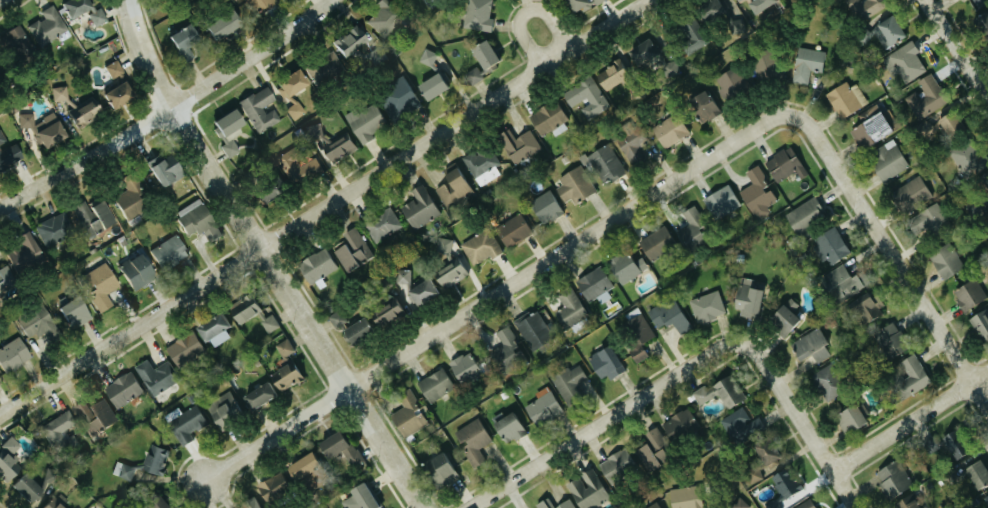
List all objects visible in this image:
building: (238, 0)
building: (266, 4)
building: (581, 4)
building: (762, 4)
building: (865, 8)
building: (708, 10)
building: (86, 11)
building: (478, 15)
building: (982, 18)
building: (383, 19)
building: (235, 23)
road: (558, 26)
building: (50, 27)
building: (888, 32)
building: (691, 35)
building: (188, 41)
building: (349, 42)
road: (959, 48)
building: (642, 52)
building: (428, 57)
building: (481, 61)
building: (905, 62)
building: (808, 64)
building: (765, 67)
building: (116, 68)
building: (325, 68)
building: (612, 74)
building: (732, 84)
building: (431, 86)
building: (296, 93)
building: (62, 94)
building: (125, 96)
building: (586, 97)
building: (926, 97)
building: (398, 99)
building: (847, 99)
building: (702, 107)
road: (169, 109)
building: (264, 110)
building: (89, 112)
building: (548, 118)
building: (366, 122)
building: (948, 122)
building: (47, 129)
building: (870, 130)
building: (232, 131)
building: (669, 131)
building: (518, 145)
building: (633, 146)
building: (338, 149)
building: (9, 153)
building: (887, 160)
building: (967, 160)
building: (604, 163)
building: (784, 164)
building: (301, 166)
building: (483, 166)
building: (170, 169)
building: (575, 185)
building: (453, 187)
building: (985, 188)
building: (912, 194)
building: (758, 195)
building: (136, 198)
building: (722, 202)
building: (544, 206)
road: (328, 208)
building: (420, 208)
building: (976, 210)
building: (805, 215)
building: (95, 219)
building: (201, 220)
building: (929, 221)
building: (383, 224)
building: (691, 227)
building: (57, 229)
building: (513, 230)
building: (657, 242)
building: (445, 245)
building: (830, 246)
building: (360, 247)
building: (481, 247)
building: (172, 252)
building: (29, 255)
road: (263, 259)
building: (946, 261)
road: (892, 262)
building: (319, 265)
building: (628, 267)
building: (142, 271)
building: (450, 273)
building: (839, 283)
building: (595, 285)
building: (8, 286)
building: (105, 286)
building: (417, 287)
road: (498, 293)
building: (969, 294)
building: (747, 299)
building: (707, 307)
building: (570, 308)
building: (863, 309)
building: (78, 313)
building: (386, 313)
building: (257, 314)
building: (668, 316)
building: (784, 316)
building: (337, 318)
building: (981, 324)
building: (42, 325)
building: (535, 328)
building: (221, 331)
building: (355, 331)
building: (636, 337)
building: (890, 340)
building: (812, 346)
building: (287, 348)
building: (190, 350)
building: (508, 350)
building: (15, 355)
building: (605, 363)
building: (463, 367)
building: (160, 376)
building: (291, 376)
building: (912, 376)
building: (0, 379)
building: (829, 382)
building: (569, 383)
building: (435, 385)
building: (127, 389)
building: (720, 392)
building: (266, 396)
building: (543, 409)
building: (231, 410)
building: (408, 415)
building: (98, 416)
building: (853, 416)
road: (602, 421)
road: (909, 421)
road: (800, 423)
building: (191, 424)
building: (679, 425)
building: (740, 425)
building: (509, 428)
building: (64, 432)
building: (473, 441)
building: (949, 449)
building: (653, 450)
building: (346, 454)
building: (160, 459)
building: (759, 460)
building: (10, 461)
building: (616, 465)
building: (315, 469)
building: (441, 469)
building: (978, 474)
building: (893, 478)
building: (786, 483)
building: (36, 486)
building: (280, 489)
building: (588, 490)
building: (360, 497)
building: (686, 497)
building: (909, 502)
building: (739, 503)
building: (984, 503)
building: (58, 504)
building: (257, 504)
building: (556, 504)
building: (806, 504)
building: (166, 505)
building: (655, 506)

